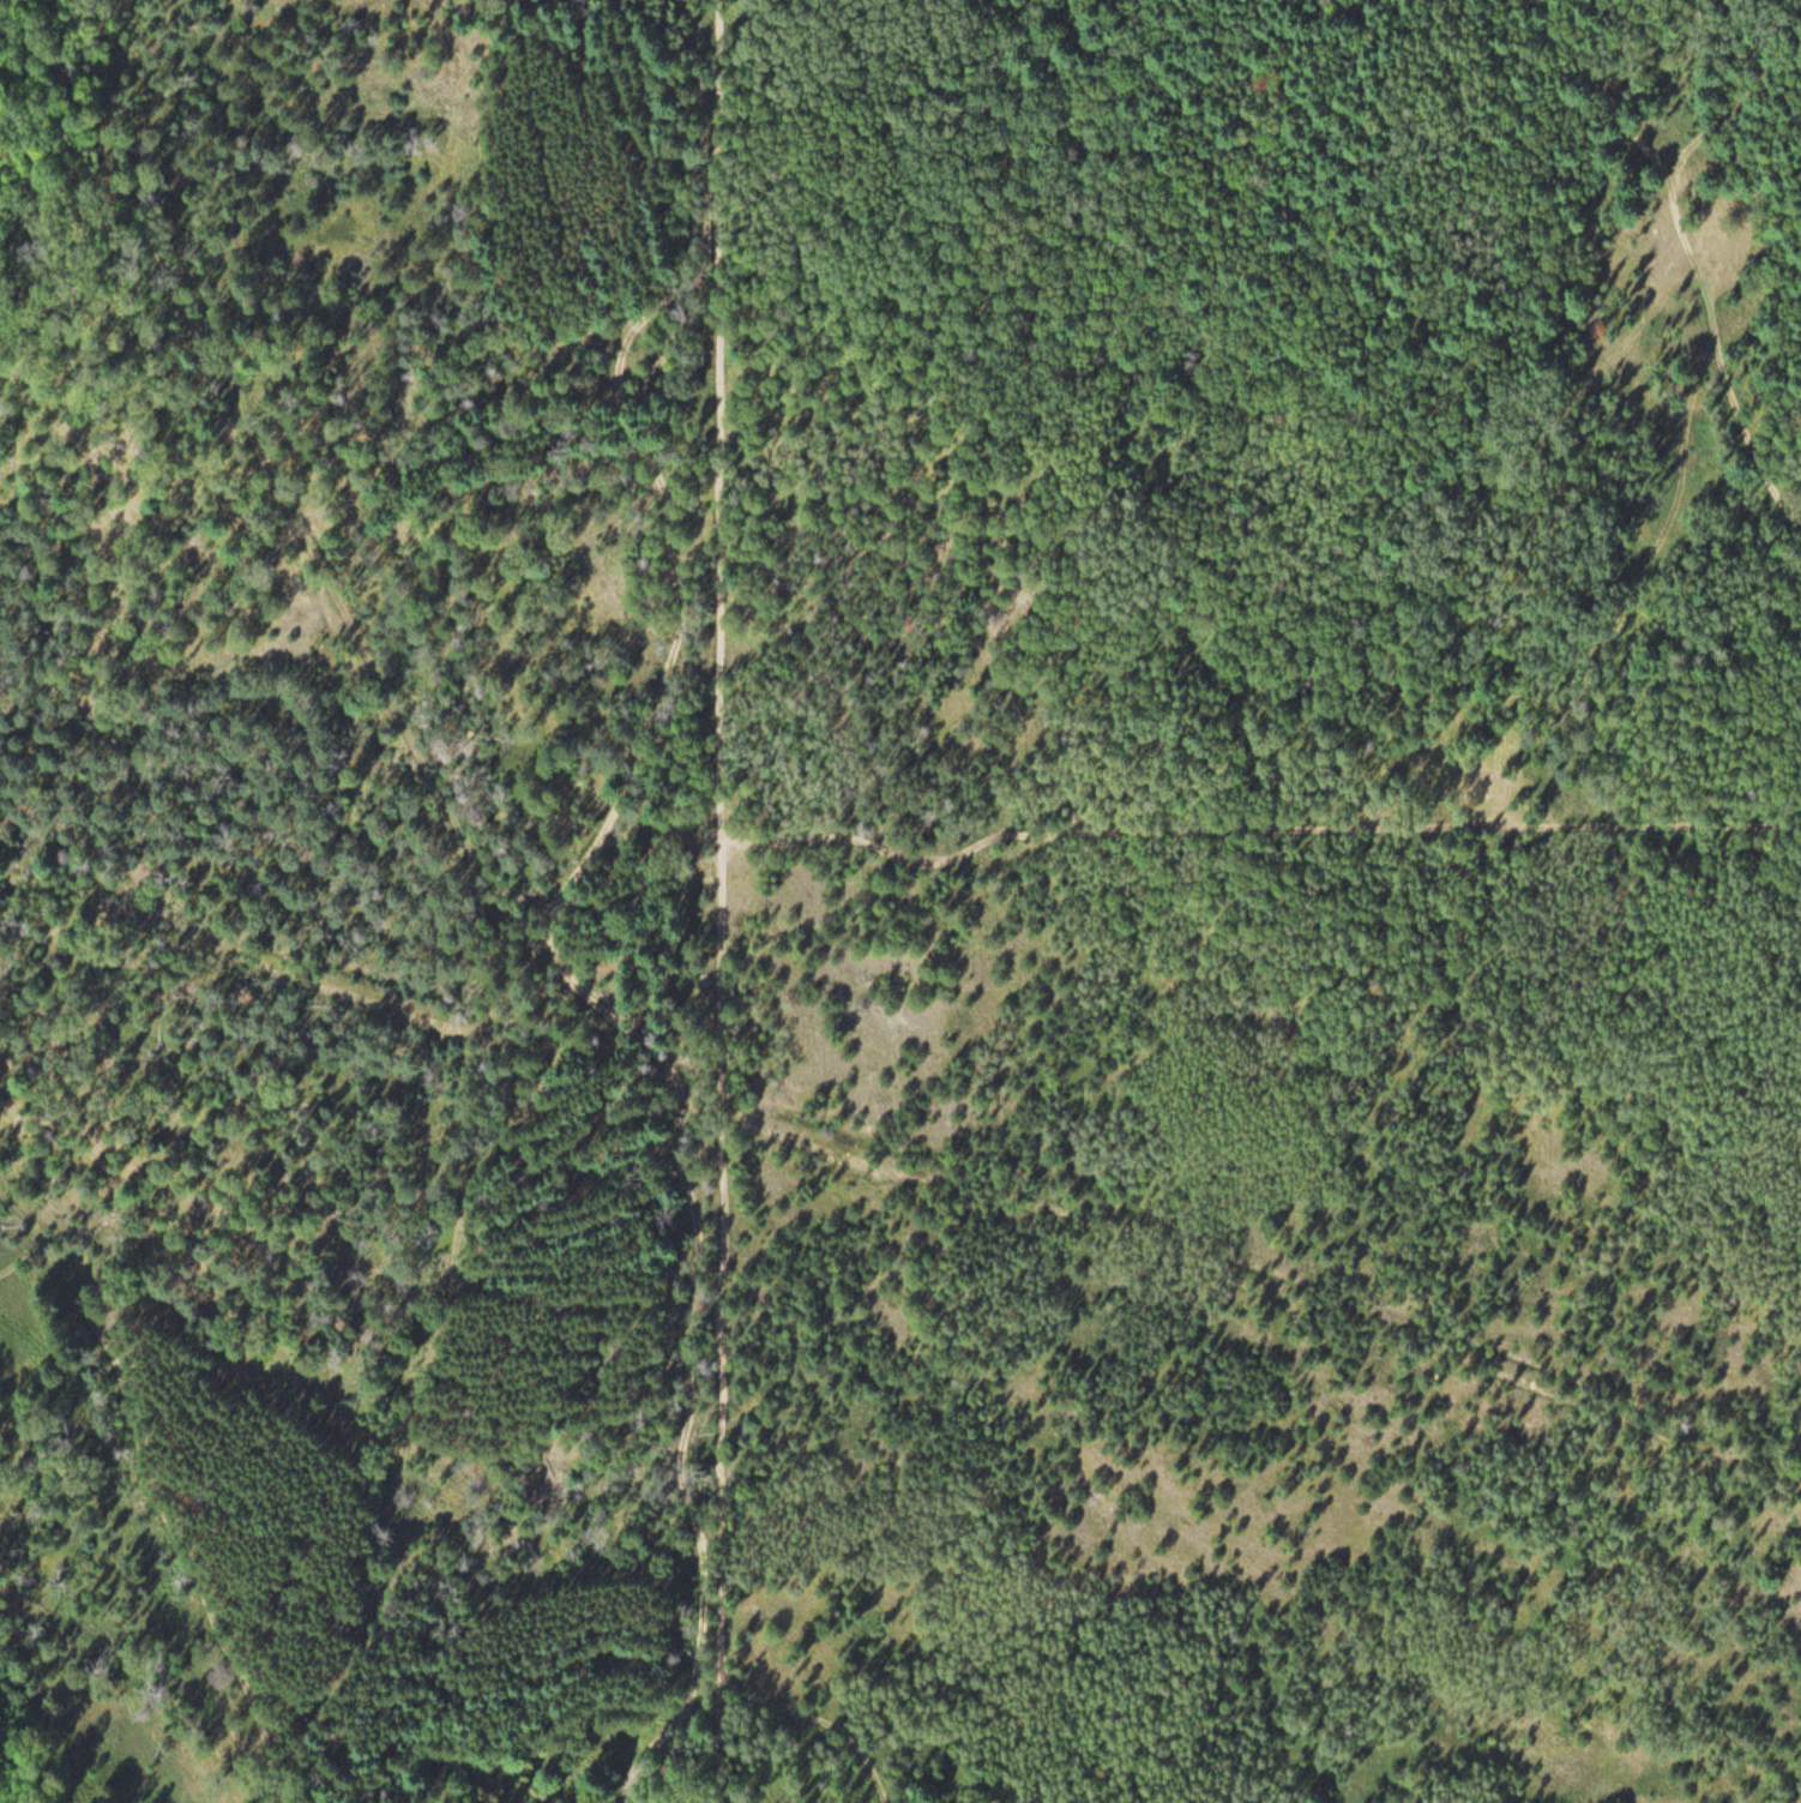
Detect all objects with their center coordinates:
road: (1683, 252)
road: (663, 503)
road: (318, 557)
road: (711, 560)
road: (1254, 839)
road: (671, 1092)
road: (1234, 1302)
road: (694, 1456)
road: (156, 1500)

